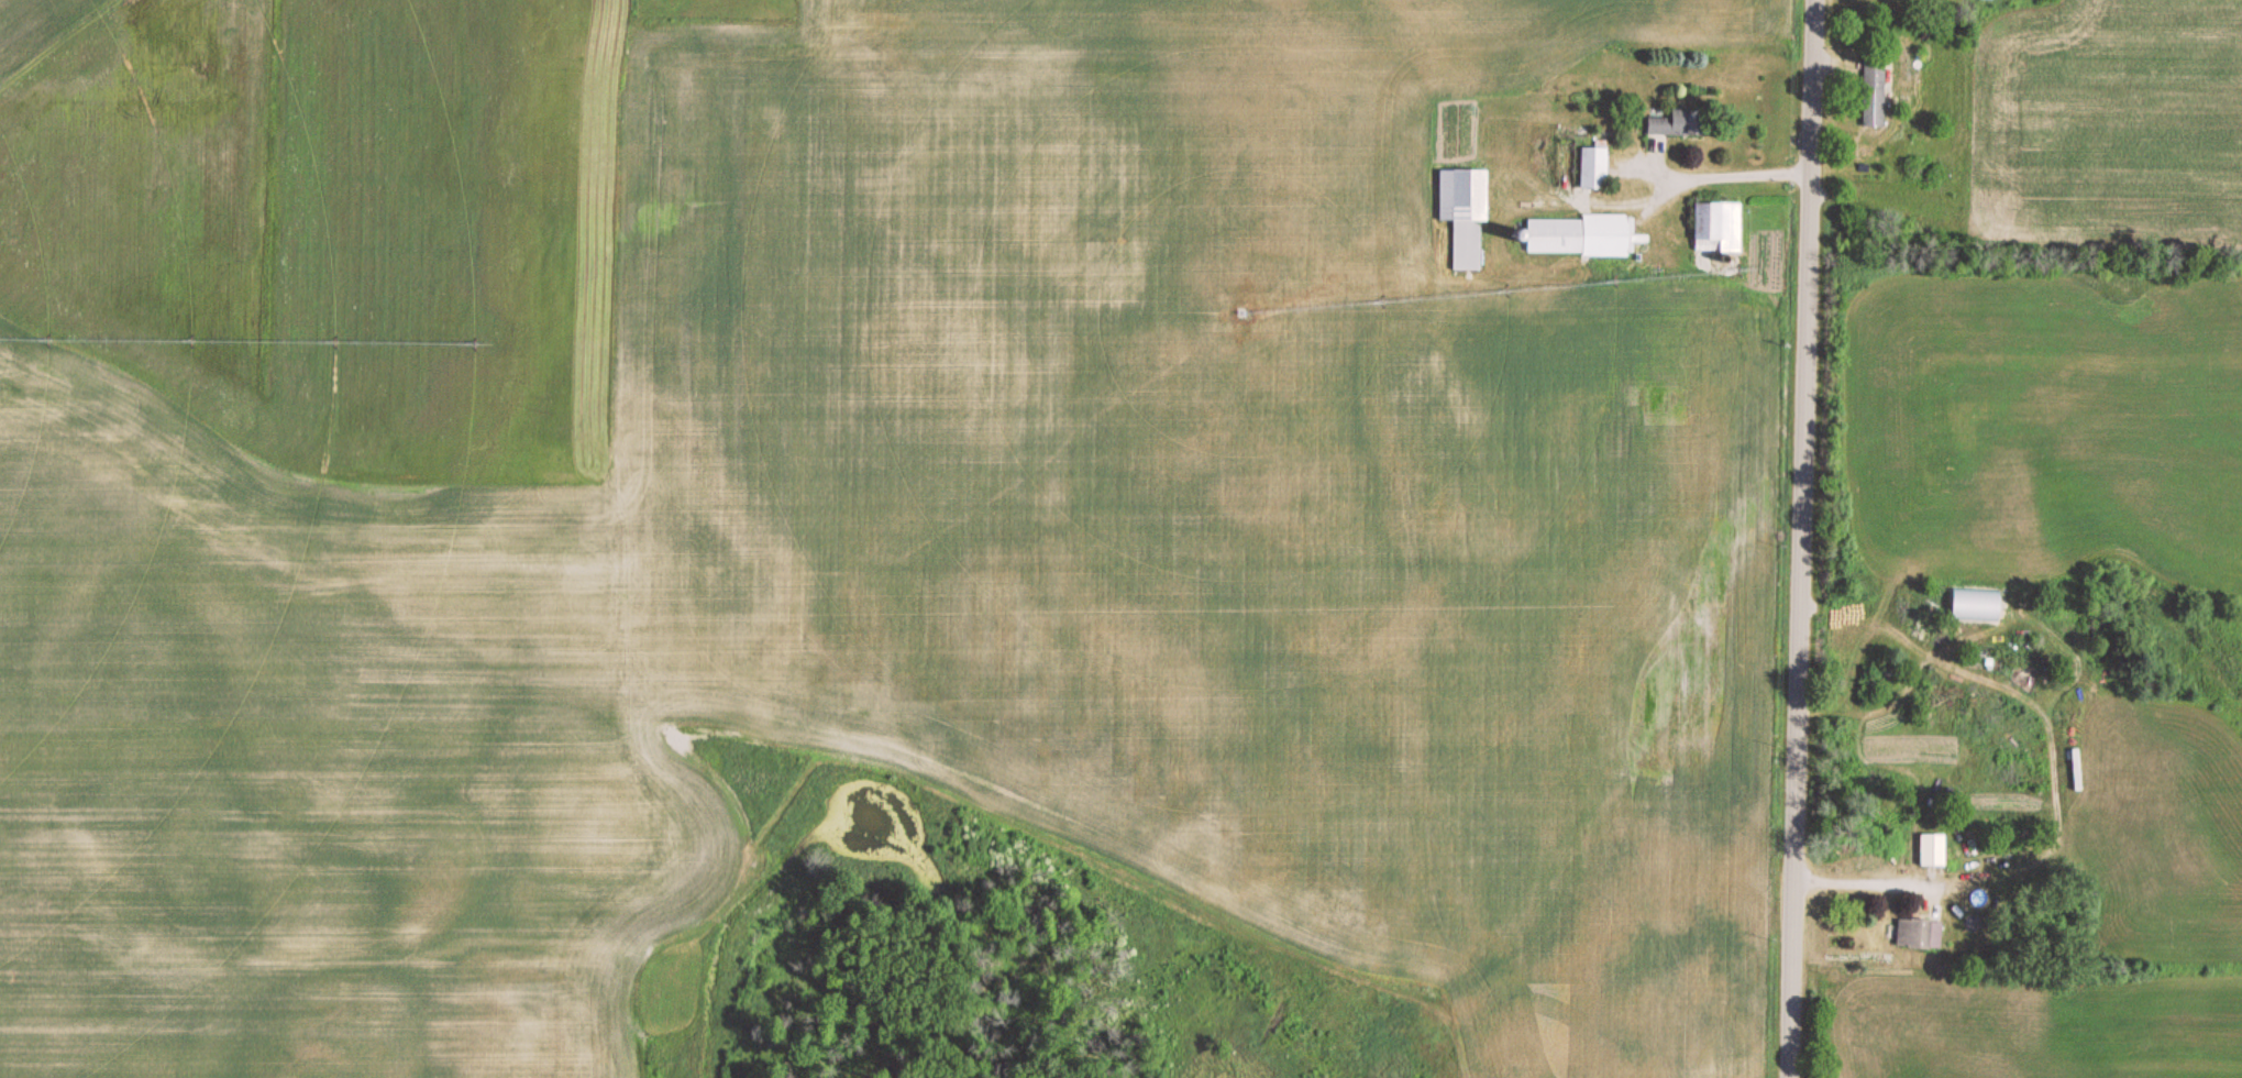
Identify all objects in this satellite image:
building: (1914, 63)
building: (1876, 90)
crop: (2107, 118)
building: (1678, 123)
building: (1599, 167)
building: (1468, 213)
building: (1722, 227)
building: (1583, 235)
road: (1803, 539)
building: (1926, 853)
building: (1904, 934)

